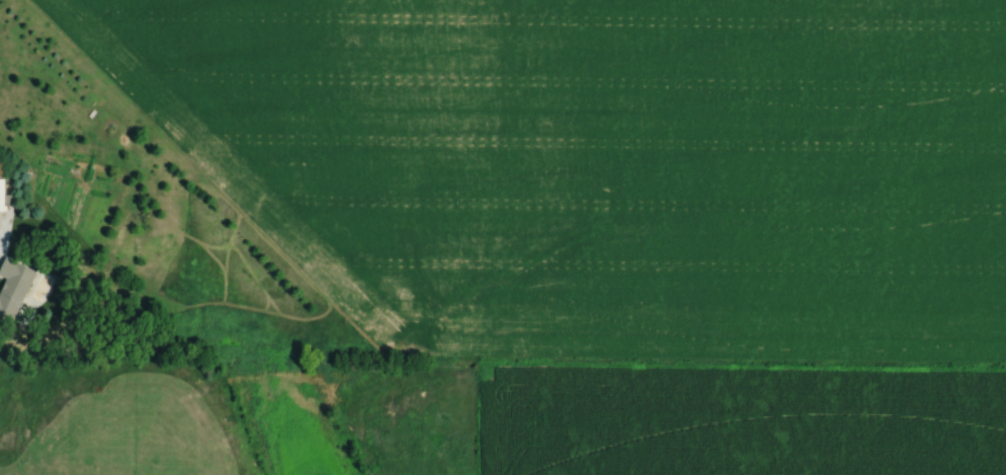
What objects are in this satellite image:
building: (12, 282)

